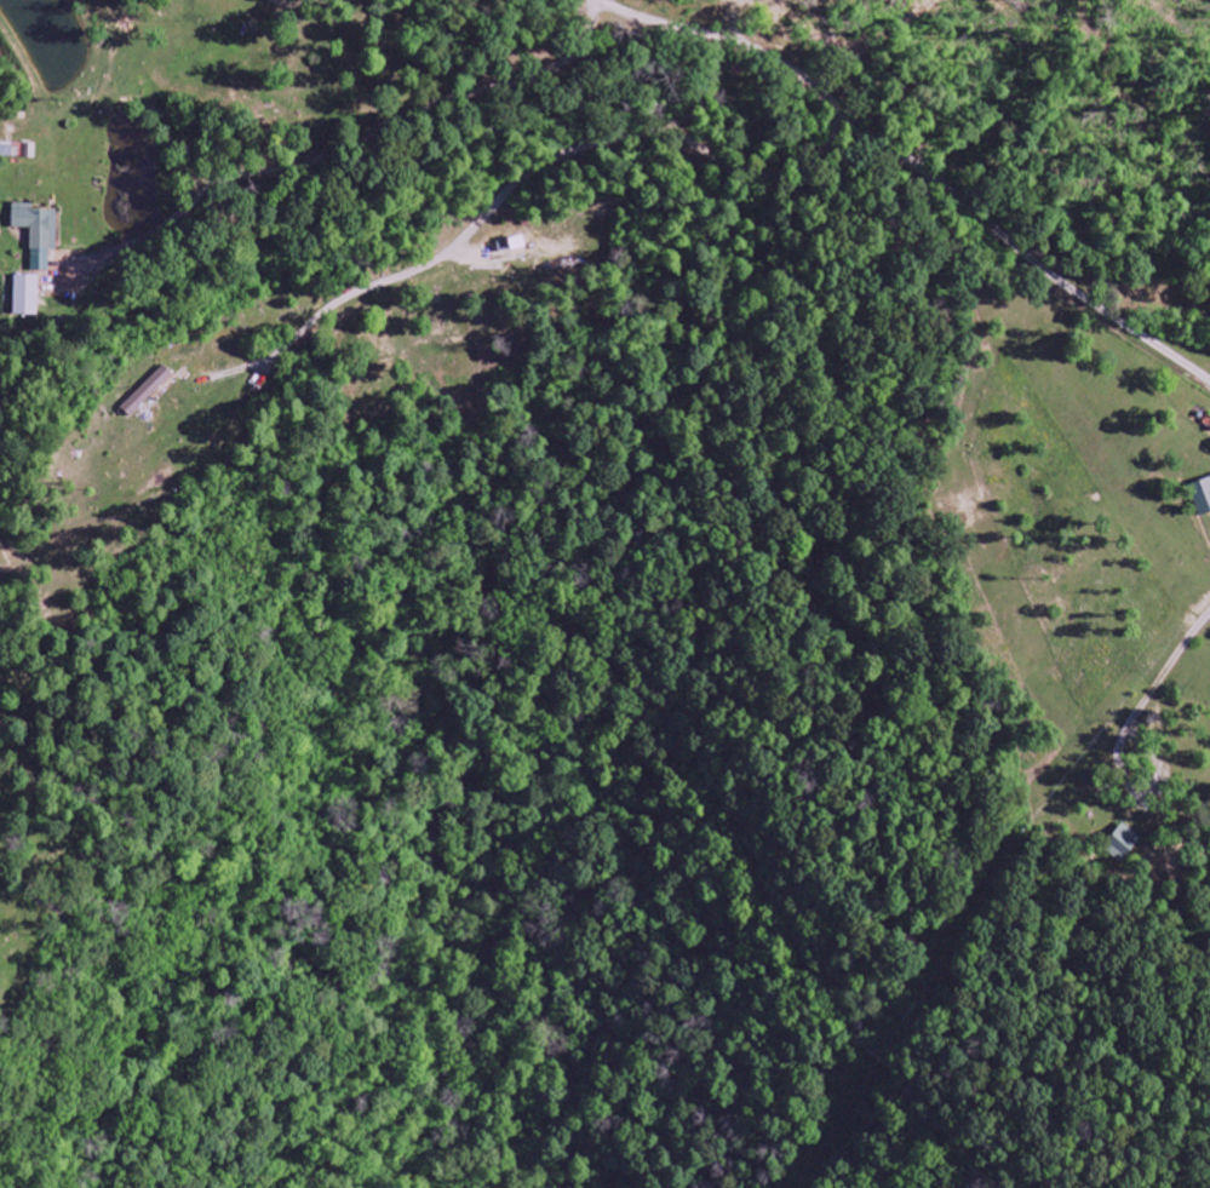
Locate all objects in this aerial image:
road: (1034, 120)
road: (899, 145)
building: (39, 234)
building: (517, 245)
building: (27, 297)
building: (148, 392)
building: (1203, 498)
building: (1123, 843)

